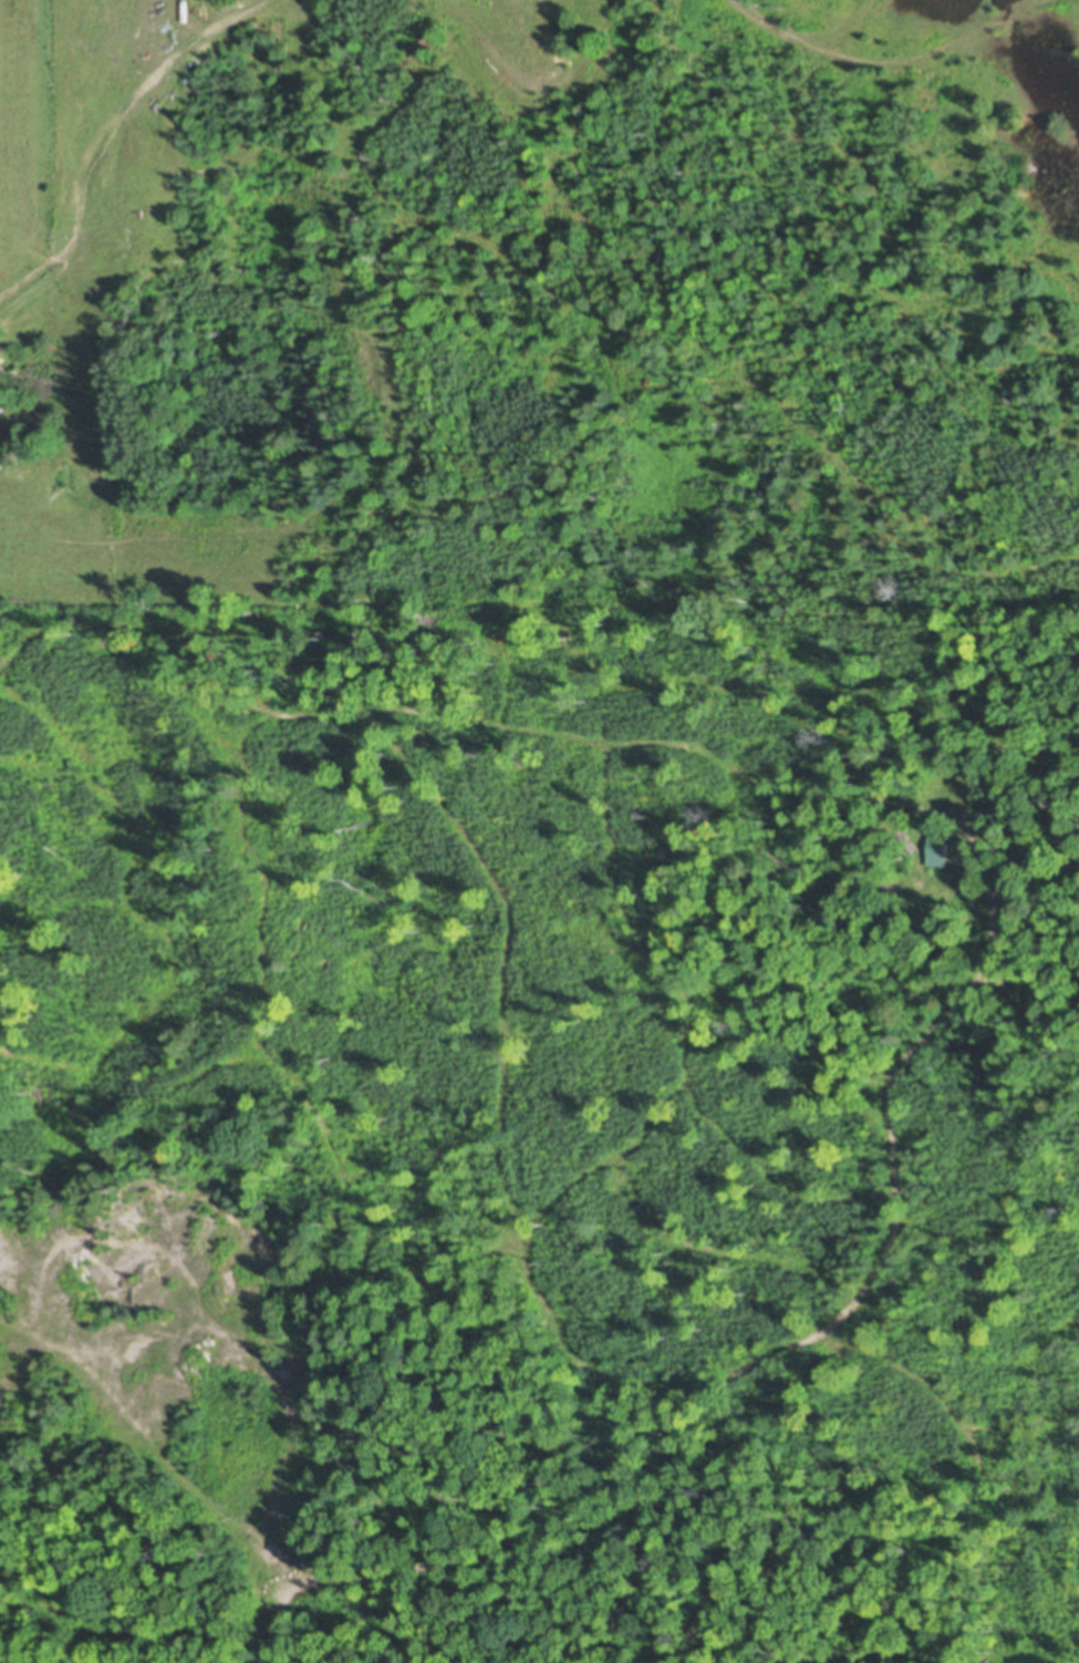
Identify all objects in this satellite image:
building: (1040, 802)
building: (1054, 825)
building: (935, 844)
road: (271, 1620)

